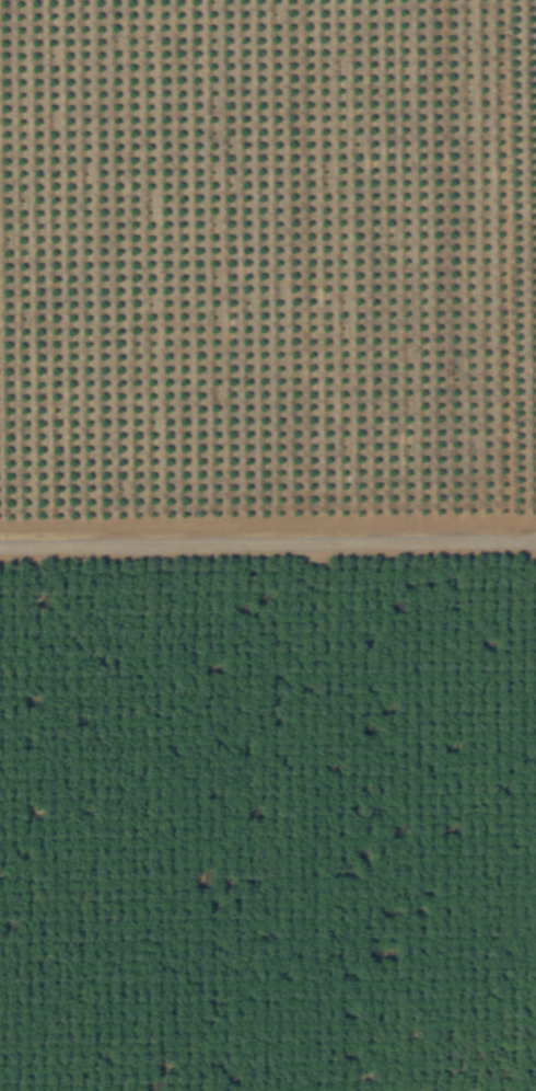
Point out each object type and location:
crop: (268, 823)

